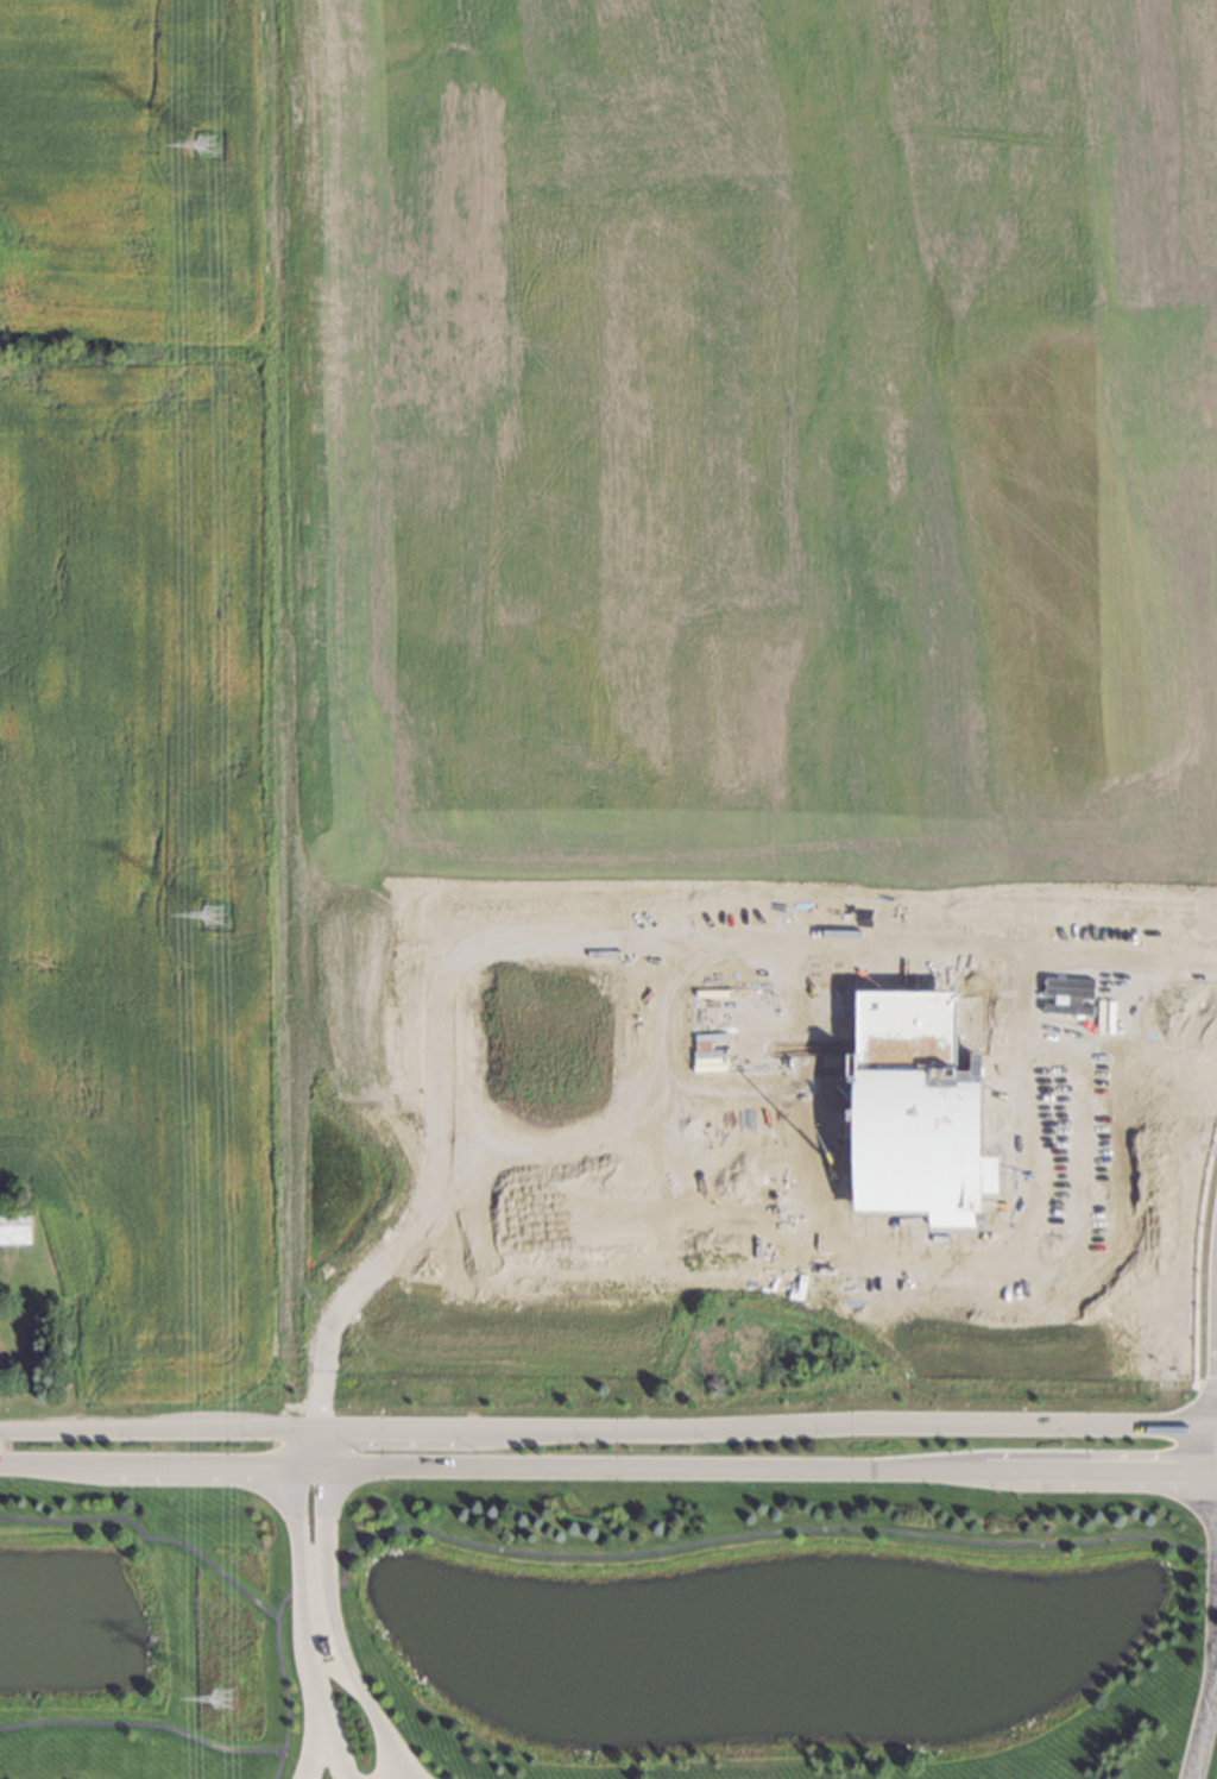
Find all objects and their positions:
power tower: (208, 137)
power tower: (217, 912)
road: (576, 933)
building: (919, 1113)
building: (12, 1222)
building: (787, 1285)
road: (607, 1426)
road: (296, 1445)
road: (324, 1445)
road: (1216, 1461)
road: (147, 1465)
road: (310, 1465)
road: (770, 1465)
road: (146, 1529)
road: (326, 1533)
road: (294, 1534)
road: (745, 1538)
road: (1207, 1551)
road: (1213, 1586)
road: (311, 1690)
road: (358, 1691)
road: (1213, 1691)
power tower: (228, 1697)
road: (157, 1721)
road: (1200, 1739)
road: (326, 1750)

